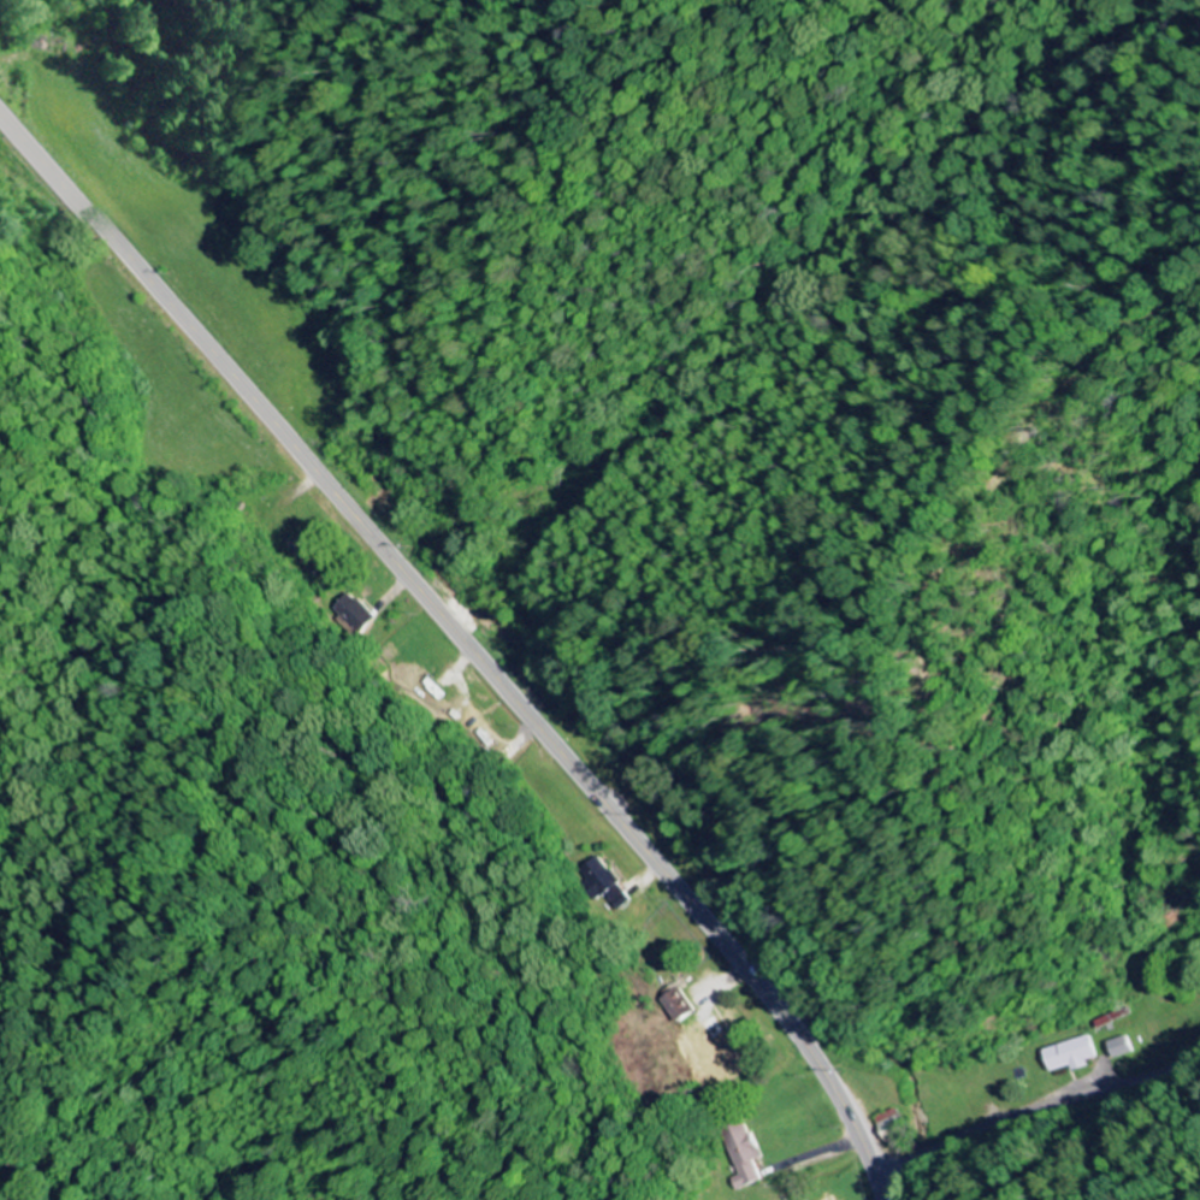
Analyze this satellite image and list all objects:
building: (353, 611)
road: (461, 640)
building: (603, 881)
building: (678, 1006)
building: (715, 1045)
building: (1124, 1048)
building: (1075, 1056)
road: (1035, 1110)
building: (891, 1121)
building: (744, 1154)
building: (833, 1198)

